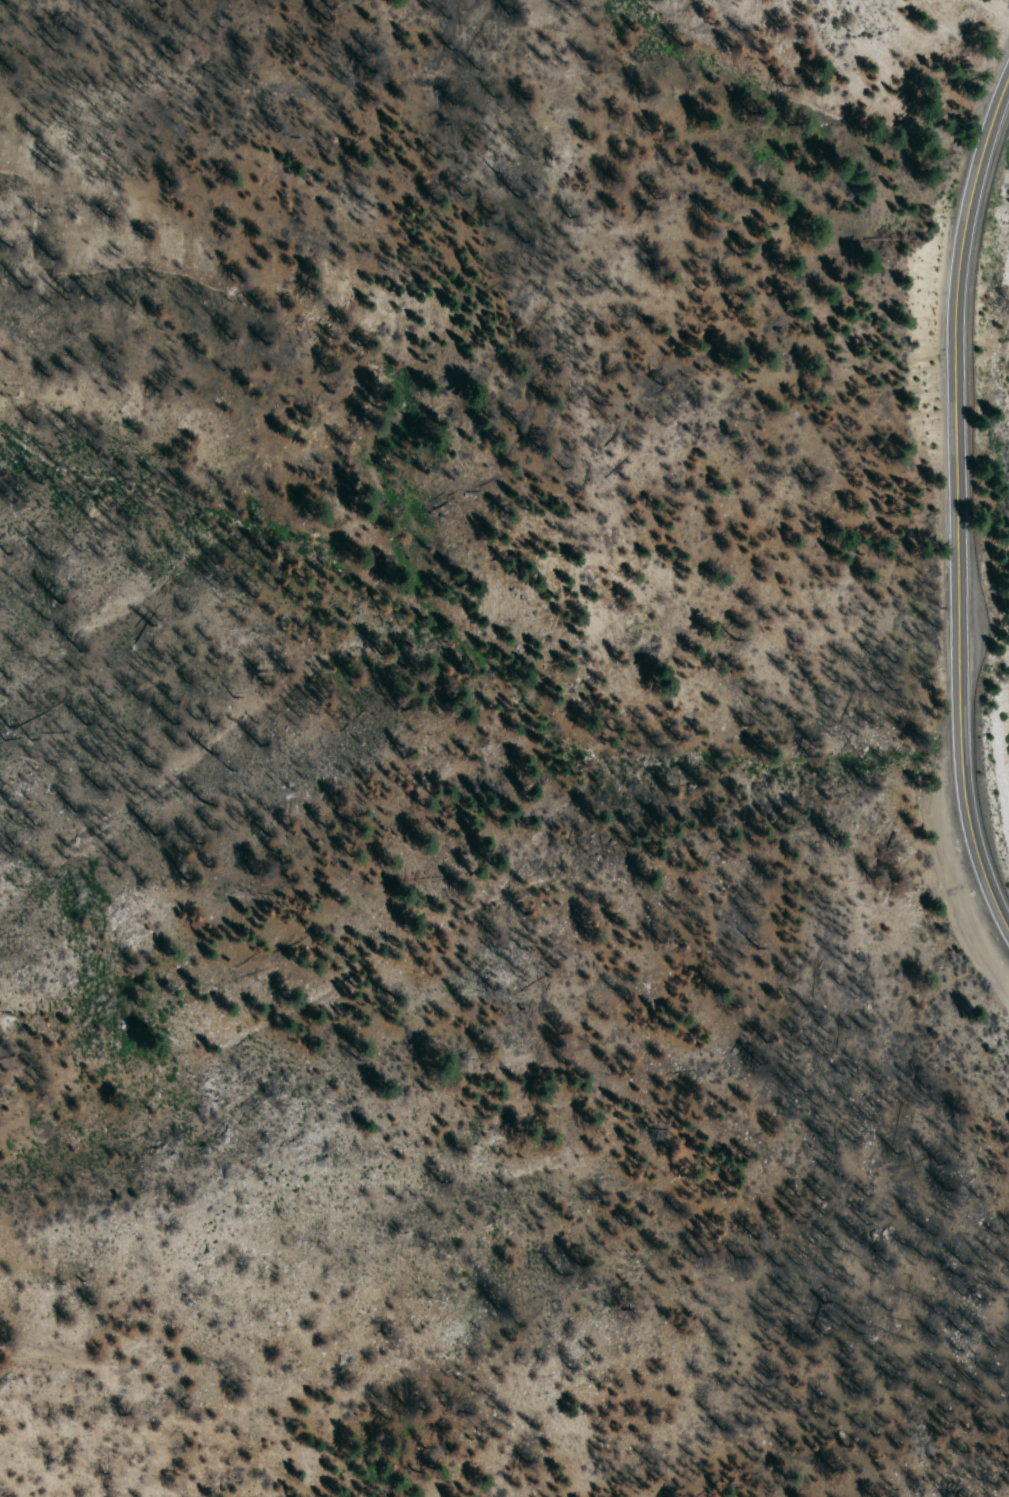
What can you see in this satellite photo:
road: (954, 503)

